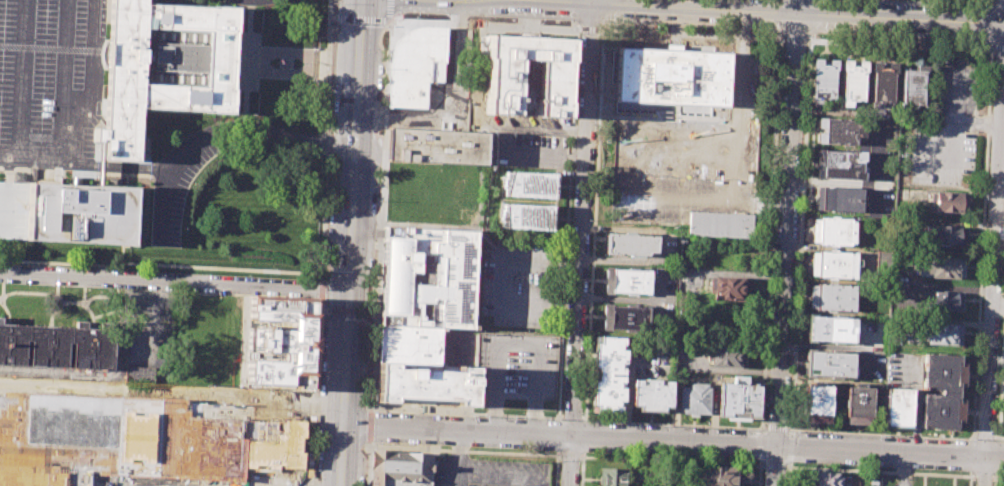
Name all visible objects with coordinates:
road: (389, 10)
road: (576, 10)
road: (607, 10)
road: (775, 12)
road: (777, 15)
road: (813, 16)
road: (333, 17)
street lamp: (416, 17)
road: (362, 18)
road: (482, 23)
road: (608, 25)
road: (589, 29)
road: (691, 34)
road: (776, 34)
road: (813, 36)
road: (794, 39)
road: (900, 44)
road: (999, 50)
road: (252, 51)
road: (288, 53)
road: (251, 61)
flagpole: (281, 63)
road: (246, 64)
road: (313, 64)
building: (415, 64)
road: (327, 65)
building: (165, 66)
road: (741, 68)
road: (251, 70)
road: (287, 72)
building: (526, 75)
building: (672, 76)
building: (823, 78)
road: (21, 80)
building: (853, 80)
road: (63, 81)
building: (883, 81)
parking lot: (53, 84)
building: (912, 87)
parking lot: (957, 87)
road: (451, 108)
road: (897, 114)
road: (679, 121)
road: (257, 130)
building: (837, 131)
road: (327, 140)
building: (436, 146)
parking lot: (526, 150)
parking lot: (689, 152)
parking lot: (939, 153)
road: (677, 154)
road: (86, 163)
building: (839, 164)
parking lot: (180, 179)
building: (530, 183)
road: (734, 191)
road: (677, 199)
building: (837, 199)
building: (950, 201)
road: (162, 203)
building: (67, 213)
road: (348, 213)
building: (527, 216)
road: (567, 220)
road: (788, 223)
road: (593, 225)
building: (720, 225)
building: (834, 231)
road: (770, 234)
building: (946, 234)
road: (582, 243)
building: (630, 243)
road: (500, 259)
building: (882, 261)
building: (832, 265)
building: (944, 267)
building: (428, 277)
road: (993, 279)
building: (626, 281)
road: (172, 282)
parking lot: (524, 283)
road: (321, 289)
building: (730, 289)
traffic signals: (345, 292)
building: (831, 296)
building: (943, 301)
road: (323, 310)
road: (346, 310)
road: (370, 311)
road: (375, 311)
building: (624, 318)
building: (829, 329)
building: (943, 334)
building: (278, 342)
building: (427, 344)
building: (56, 345)
building: (727, 356)
building: (828, 364)
parking lot: (515, 371)
building: (608, 373)
building: (139, 374)
building: (425, 382)
road: (1001, 385)
road: (313, 391)
building: (942, 391)
building: (651, 394)
road: (199, 396)
building: (693, 398)
building: (738, 398)
building: (810, 402)
building: (823, 403)
building: (852, 404)
building: (865, 404)
road: (323, 407)
building: (898, 407)
road: (370, 408)
road: (571, 419)
road: (674, 424)
road: (369, 425)
road: (776, 429)
road: (790, 430)
road: (792, 431)
road: (558, 435)
road: (881, 435)
road: (975, 436)
road: (584, 437)
road: (985, 437)
building: (126, 438)
road: (998, 438)
road: (972, 439)
road: (671, 442)
road: (761, 446)
road: (791, 447)
road: (461, 451)
parking lot: (278, 452)
road: (337, 456)
road: (570, 456)
road: (972, 456)
road: (997, 457)
road: (456, 459)
road: (671, 462)
road: (366, 466)
road: (774, 466)
road: (777, 466)
building: (400, 468)
road: (557, 468)
road: (582, 469)
road: (880, 471)
parking lot: (486, 472)
road: (759, 474)
road: (789, 474)
building: (722, 475)
road: (499, 476)
building: (613, 476)
road: (983, 477)
road: (970, 478)
road: (997, 478)
building: (826, 479)
road: (995, 479)

